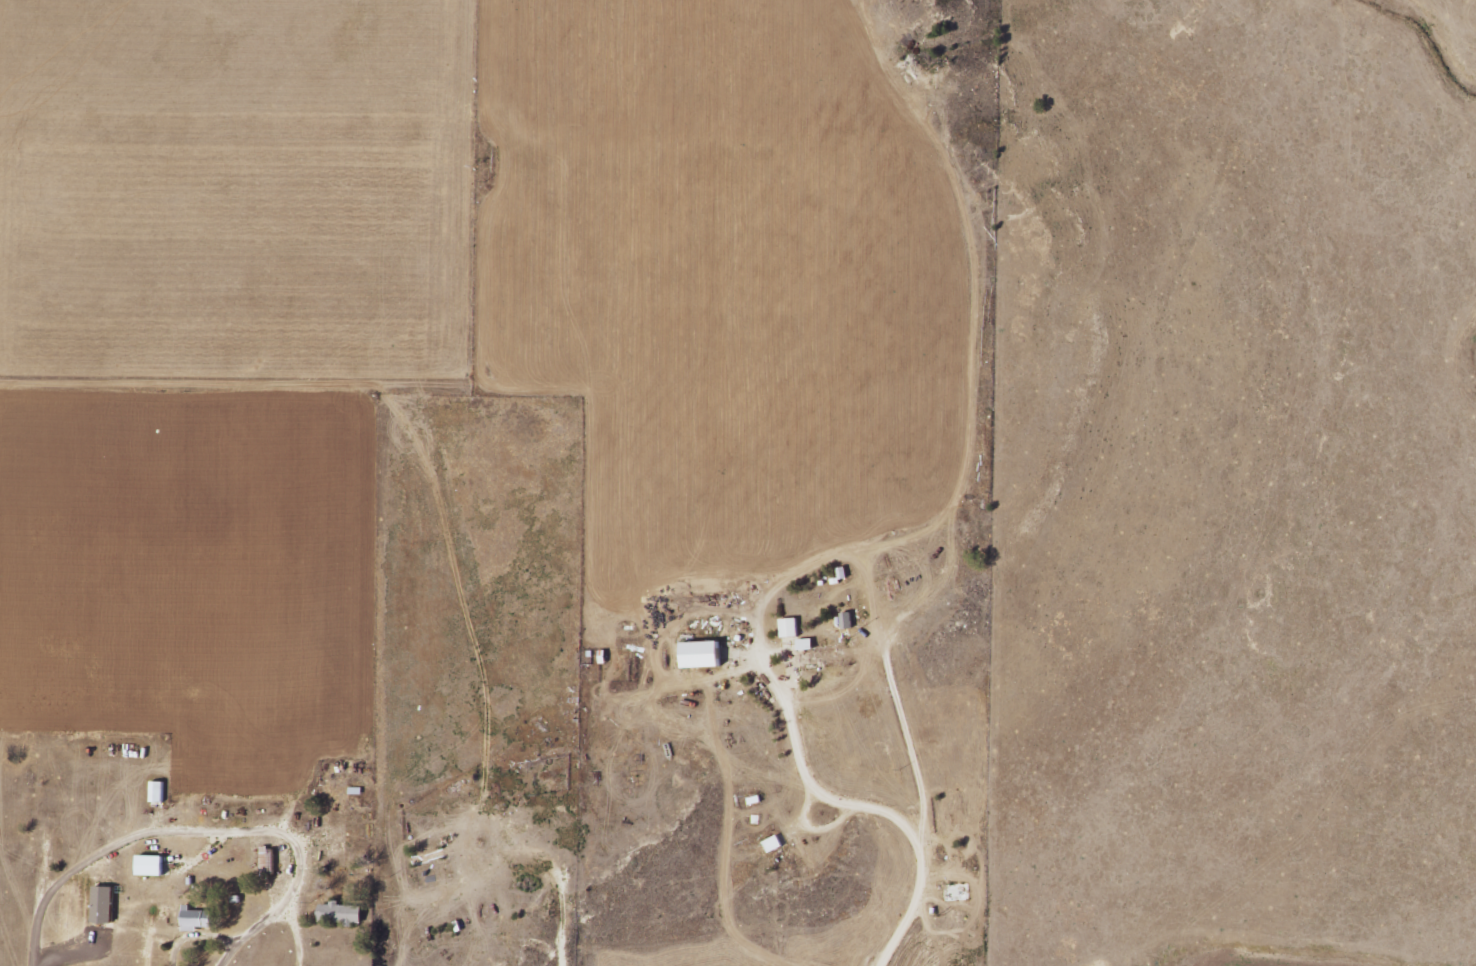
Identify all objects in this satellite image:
road: (504, 513)
building: (792, 628)
building: (823, 653)
building: (704, 654)
building: (776, 844)
building: (153, 866)
building: (106, 905)
building: (344, 914)
building: (198, 919)

